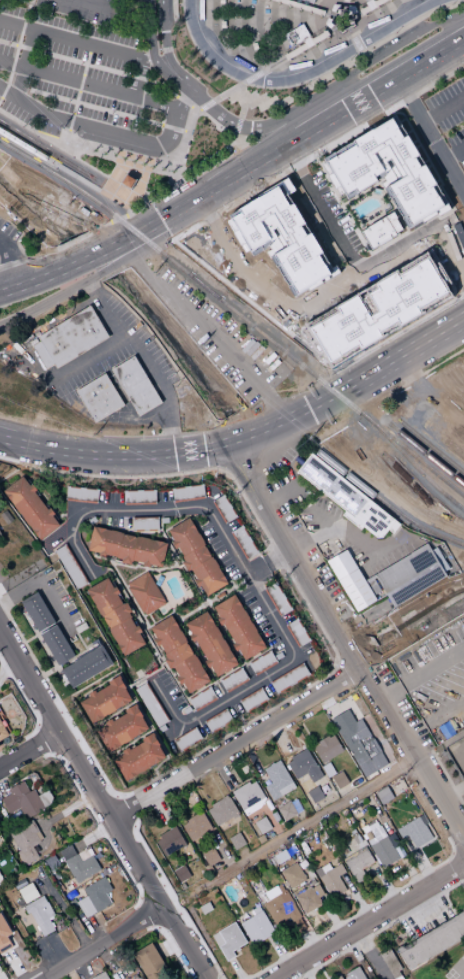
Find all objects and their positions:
road: (374, 0)
building: (308, 1)
building: (346, 1)
building: (366, 1)
building: (301, 6)
building: (372, 6)
building: (335, 8)
road: (111, 9)
building: (352, 9)
road: (310, 10)
road: (345, 10)
building: (343, 20)
road: (343, 21)
building: (328, 23)
road: (278, 28)
building: (296, 36)
road: (76, 39)
building: (307, 45)
road: (15, 49)
road: (289, 55)
road: (168, 58)
road: (296, 72)
parking lot: (86, 74)
road: (87, 84)
road: (76, 97)
road: (443, 108)
road: (107, 111)
parking lot: (448, 113)
road: (278, 115)
road: (204, 116)
road: (307, 117)
road: (106, 131)
road: (431, 137)
railway: (44, 148)
road: (453, 151)
road: (317, 153)
road: (73, 158)
road: (137, 162)
railway: (58, 164)
road: (259, 164)
railway: (39, 165)
building: (388, 171)
road: (178, 178)
building: (128, 180)
road: (95, 188)
road: (46, 200)
parking lot: (406, 204)
road: (322, 212)
parking lot: (278, 215)
building: (251, 231)
building: (381, 231)
road: (49, 253)
road: (8, 261)
road: (103, 271)
building: (320, 274)
road: (24, 280)
railway: (208, 291)
road: (327, 294)
building: (378, 310)
building: (69, 338)
road: (209, 338)
road: (373, 347)
road: (93, 357)
road: (400, 357)
road: (143, 361)
road: (439, 362)
road: (419, 381)
building: (134, 385)
building: (99, 397)
road: (62, 439)
road: (16, 445)
railway: (399, 446)
railway: (432, 448)
railway: (419, 450)
road: (172, 452)
railway: (416, 469)
building: (332, 486)
building: (187, 493)
building: (81, 495)
road: (282, 495)
building: (139, 497)
railway: (386, 506)
building: (31, 507)
building: (223, 509)
building: (5, 517)
building: (373, 520)
building: (144, 524)
road: (311, 540)
road: (357, 540)
building: (243, 542)
road: (9, 543)
building: (127, 546)
road: (170, 554)
building: (196, 556)
road: (266, 562)
building: (341, 565)
building: (69, 567)
road: (20, 575)
road: (246, 575)
building: (410, 575)
road: (237, 585)
road: (123, 587)
road: (42, 589)
building: (357, 590)
road: (217, 593)
building: (144, 594)
road: (220, 597)
building: (277, 599)
road: (194, 610)
road: (246, 610)
building: (37, 612)
road: (360, 615)
building: (115, 616)
road: (212, 616)
road: (157, 621)
building: (238, 627)
road: (143, 629)
road: (42, 631)
building: (297, 633)
road: (341, 641)
road: (92, 643)
building: (56, 644)
building: (210, 644)
road: (73, 648)
road: (72, 649)
building: (178, 654)
road: (197, 655)
road: (74, 656)
road: (3, 661)
building: (262, 663)
building: (86, 666)
road: (420, 674)
road: (325, 676)
building: (289, 679)
building: (233, 680)
road: (177, 686)
building: (201, 698)
building: (104, 700)
building: (252, 700)
building: (150, 705)
building: (186, 711)
road: (235, 712)
road: (433, 718)
building: (217, 721)
road: (301, 726)
building: (121, 729)
building: (161, 729)
building: (2, 731)
road: (279, 737)
building: (187, 740)
road: (233, 742)
building: (326, 748)
building: (362, 748)
road: (30, 750)
power substation: (457, 755)
road: (250, 756)
building: (139, 757)
road: (2, 762)
building: (304, 766)
road: (219, 769)
building: (328, 770)
road: (446, 779)
road: (211, 780)
building: (277, 780)
building: (339, 780)
road: (243, 781)
road: (231, 783)
road: (353, 784)
road: (3, 787)
road: (452, 791)
building: (247, 794)
building: (315, 794)
building: (383, 795)
road: (331, 800)
building: (22, 801)
road: (102, 806)
road: (158, 806)
building: (251, 808)
road: (68, 810)
road: (375, 810)
building: (222, 811)
building: (286, 811)
building: (356, 811)
road: (252, 817)
road: (302, 818)
road: (271, 819)
road: (339, 822)
building: (261, 825)
building: (195, 826)
building: (373, 827)
road: (298, 828)
road: (42, 829)
building: (414, 832)
road: (93, 835)
building: (26, 841)
building: (169, 841)
building: (236, 841)
road: (286, 845)
building: (384, 848)
road: (243, 855)
building: (210, 856)
road: (222, 856)
building: (355, 861)
road: (418, 862)
building: (78, 863)
road: (408, 868)
building: (181, 874)
building: (293, 876)
building: (331, 879)
road: (460, 881)
road: (192, 883)
road: (386, 886)
building: (317, 890)
road: (208, 892)
building: (26, 893)
building: (98, 894)
building: (307, 900)
road: (58, 902)
road: (359, 906)
building: (73, 907)
building: (84, 907)
building: (279, 907)
building: (205, 908)
road: (238, 908)
building: (47, 910)
building: (256, 910)
building: (38, 915)
building: (245, 915)
road: (370, 921)
road: (335, 926)
building: (256, 928)
road: (94, 932)
building: (3, 936)
building: (228, 941)
building: (433, 942)
road: (102, 943)
road: (310, 943)
road: (169, 945)
road: (354, 952)
road: (53, 953)
road: (281, 954)
road: (369, 955)
road: (105, 957)
building: (151, 963)
building: (391, 964)
park: (441, 965)
park: (456, 969)
road: (235, 970)
road: (68, 972)
building: (368, 973)
building: (354, 974)
building: (100, 976)
building: (338, 977)

